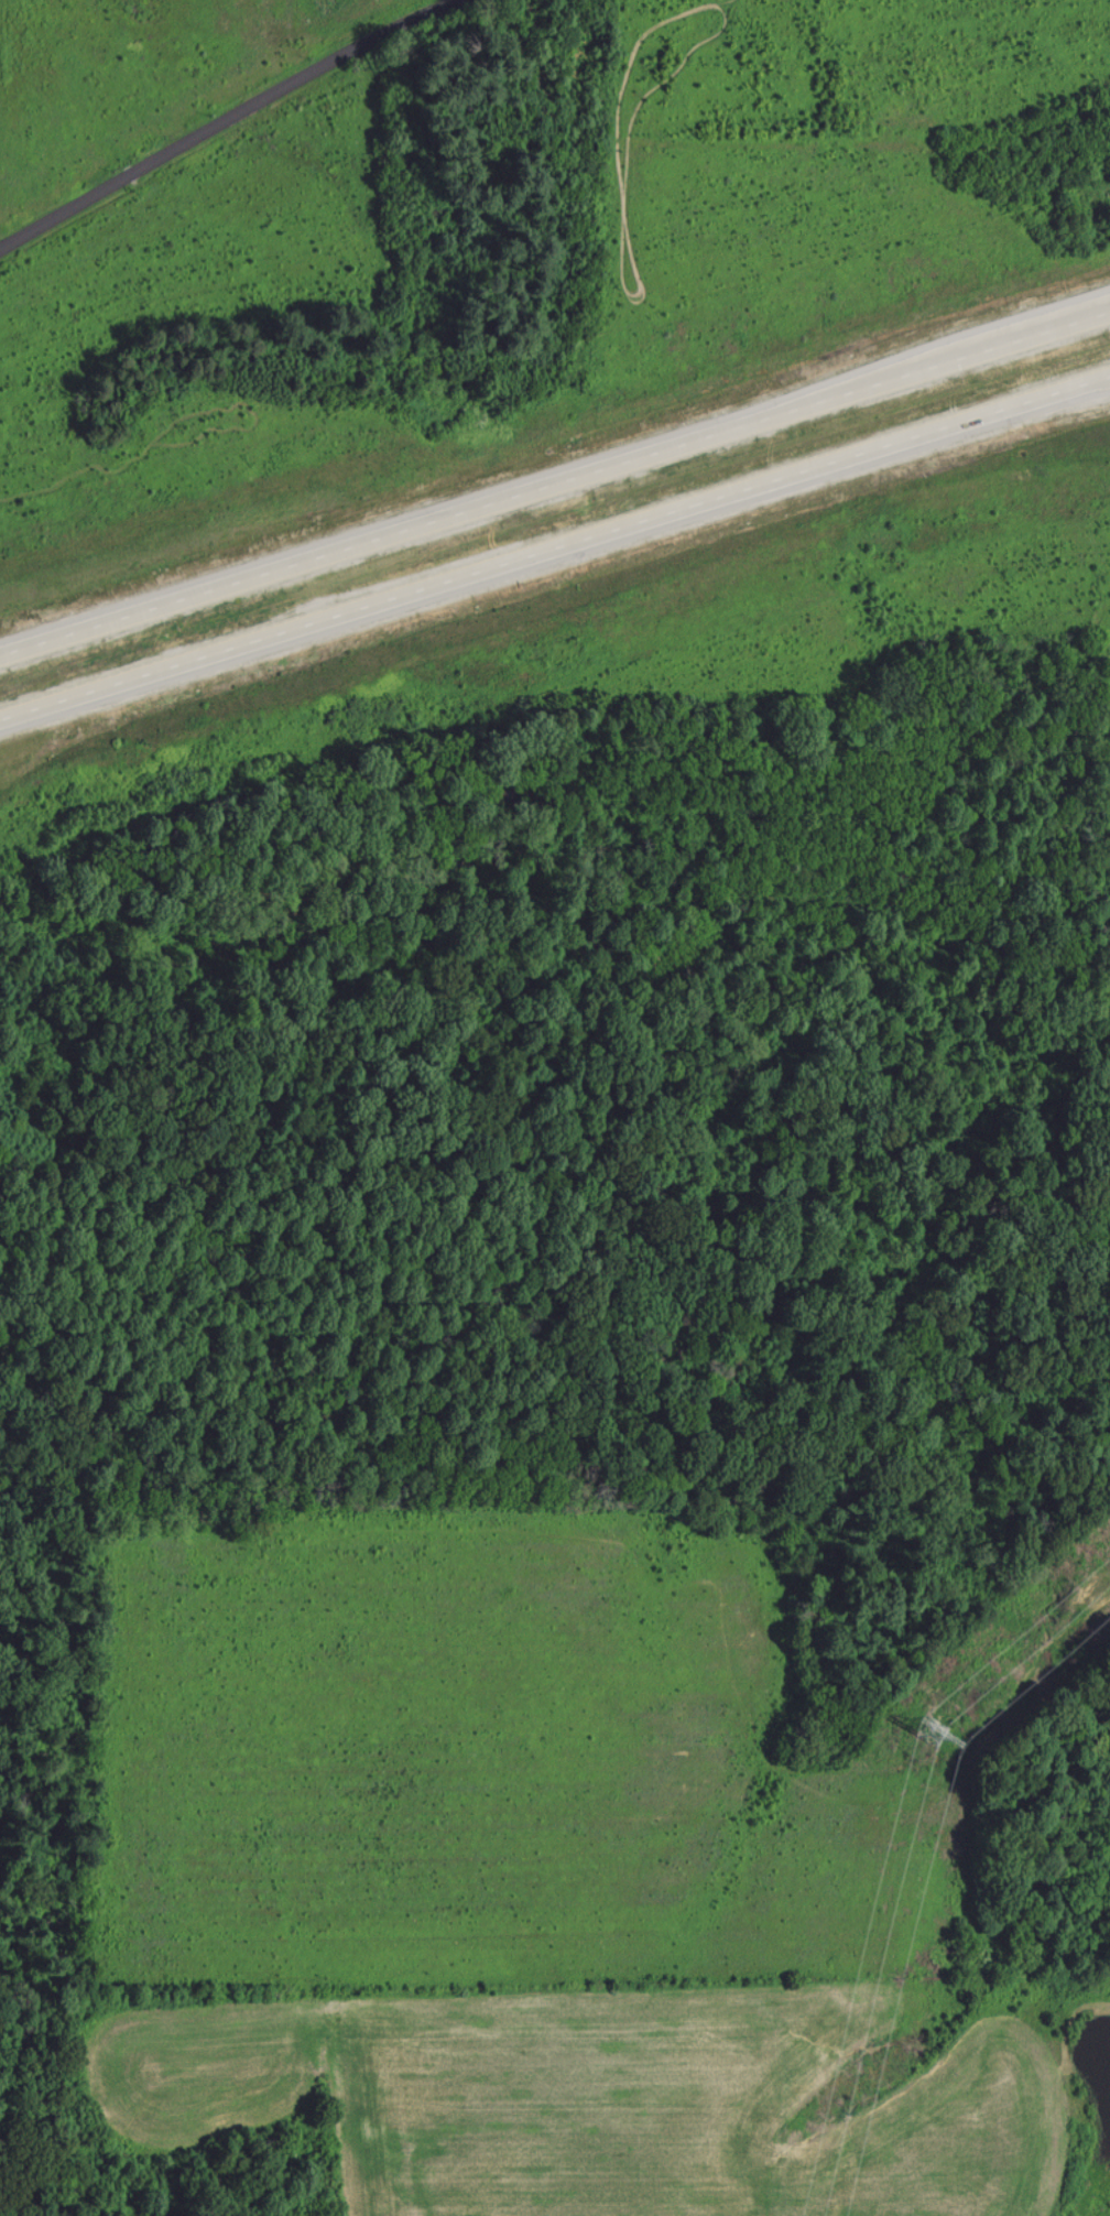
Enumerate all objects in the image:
road: (231, 119)
road: (1108, 385)
road: (555, 477)
road: (554, 556)
power tower: (933, 1731)

